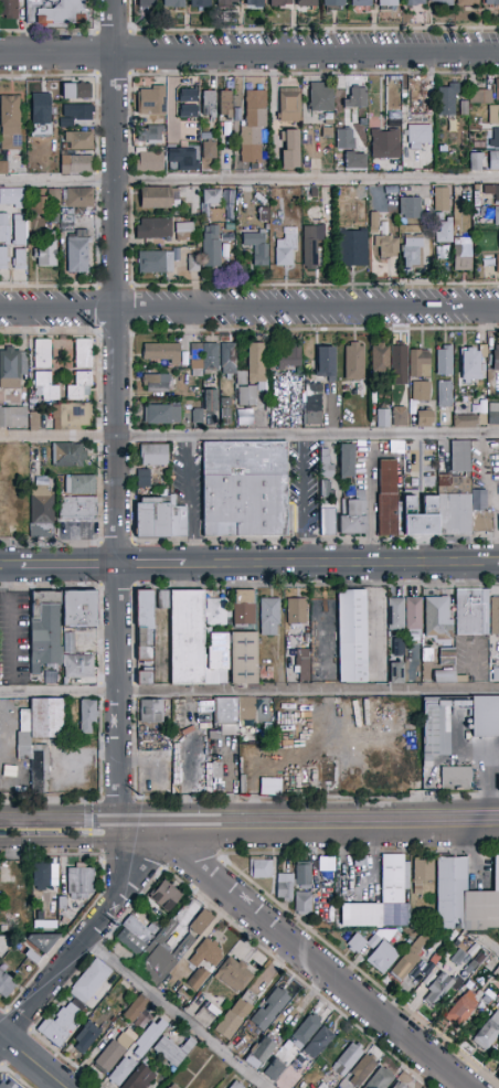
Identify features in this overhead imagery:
building: (226, 2)
building: (400, 2)
building: (440, 2)
building: (467, 2)
building: (491, 2)
building: (146, 3)
building: (173, 3)
building: (200, 3)
building: (254, 3)
building: (279, 3)
building: (307, 3)
building: (361, 3)
building: (333, 4)
building: (9, 10)
building: (53, 11)
road: (93, 15)
road: (298, 29)
road: (46, 31)
road: (112, 31)
road: (248, 52)
building: (75, 92)
building: (487, 94)
building: (321, 98)
building: (354, 98)
building: (152, 99)
building: (447, 99)
building: (417, 100)
building: (189, 104)
building: (209, 104)
building: (225, 104)
building: (289, 106)
building: (41, 109)
building: (76, 114)
building: (493, 115)
building: (11, 122)
building: (253, 126)
building: (150, 134)
building: (420, 134)
building: (497, 138)
building: (78, 141)
building: (385, 143)
building: (290, 149)
building: (349, 149)
building: (209, 150)
building: (182, 159)
building: (493, 160)
building: (149, 161)
building: (476, 161)
building: (2, 164)
building: (75, 164)
road: (250, 179)
building: (491, 192)
building: (12, 196)
building: (78, 198)
building: (157, 199)
building: (344, 200)
building: (440, 200)
building: (45, 201)
building: (210, 201)
building: (229, 201)
building: (410, 207)
building: (497, 217)
building: (3, 228)
building: (153, 228)
building: (184, 230)
building: (20, 241)
building: (312, 242)
building: (255, 245)
building: (211, 246)
building: (455, 246)
building: (387, 247)
building: (351, 248)
building: (46, 250)
building: (286, 250)
building: (412, 250)
building: (442, 252)
building: (498, 252)
building: (78, 255)
building: (3, 257)
building: (496, 262)
building: (156, 263)
road: (250, 310)
power tower: (100, 333)
building: (161, 353)
building: (42, 354)
building: (204, 355)
building: (290, 358)
building: (227, 359)
building: (325, 360)
building: (496, 360)
building: (401, 361)
building: (444, 361)
building: (256, 363)
building: (474, 363)
building: (355, 365)
building: (11, 366)
building: (82, 372)
building: (156, 383)
building: (44, 386)
building: (421, 391)
building: (444, 394)
building: (246, 395)
building: (208, 399)
building: (312, 404)
road: (118, 409)
building: (162, 414)
building: (191, 414)
building: (242, 414)
building: (493, 414)
building: (400, 416)
building: (71, 417)
building: (383, 417)
building: (18, 418)
building: (423, 419)
building: (468, 420)
road: (250, 434)
building: (70, 455)
building: (153, 455)
building: (459, 457)
building: (347, 461)
building: (326, 462)
building: (142, 478)
building: (442, 479)
building: (79, 484)
building: (325, 487)
building: (244, 489)
building: (476, 497)
road: (191, 500)
road: (302, 500)
building: (447, 504)
building: (41, 505)
building: (77, 509)
building: (160, 518)
building: (327, 518)
building: (353, 519)
building: (481, 520)
road: (498, 564)
road: (341, 565)
road: (10, 567)
road: (71, 567)
road: (152, 567)
building: (145, 608)
building: (79, 609)
building: (243, 609)
building: (471, 611)
building: (215, 612)
building: (296, 612)
building: (395, 614)
building: (414, 614)
building: (269, 616)
building: (495, 616)
building: (438, 618)
building: (40, 628)
building: (94, 631)
building: (188, 638)
building: (353, 638)
building: (307, 641)
building: (70, 642)
building: (399, 647)
building: (146, 654)
building: (244, 658)
building: (304, 664)
building: (79, 666)
building: (445, 666)
building: (396, 672)
building: (210, 674)
building: (495, 674)
building: (51, 678)
road: (248, 691)
building: (248, 710)
building: (151, 712)
building: (219, 715)
building: (87, 716)
building: (485, 716)
building: (46, 717)
building: (435, 730)
building: (23, 746)
building: (189, 750)
building: (204, 760)
building: (40, 768)
building: (178, 769)
building: (329, 774)
building: (401, 775)
building: (412, 775)
building: (457, 780)
building: (496, 781)
building: (270, 787)
railway: (250, 817)
road: (333, 820)
road: (61, 821)
road: (145, 821)
railway: (250, 825)
railway: (45, 830)
road: (372, 863)
building: (63, 867)
building: (261, 867)
building: (422, 874)
building: (41, 875)
building: (304, 876)
building: (81, 882)
building: (63, 883)
building: (285, 886)
building: (450, 893)
building: (166, 896)
building: (393, 897)
building: (53, 903)
building: (304, 903)
building: (67, 904)
building: (482, 905)
building: (397, 907)
building: (201, 922)
building: (141, 926)
building: (168, 931)
road: (87, 935)
building: (396, 936)
building: (43, 941)
building: (131, 942)
building: (407, 943)
building: (362, 945)
road: (491, 946)
building: (206, 953)
building: (168, 957)
building: (459, 957)
building: (383, 958)
building: (410, 958)
building: (33, 959)
road: (310, 960)
building: (433, 962)
building: (475, 962)
building: (497, 973)
building: (234, 974)
building: (198, 979)
building: (91, 981)
building: (6, 985)
building: (439, 985)
building: (460, 1009)
building: (270, 1010)
building: (138, 1012)
road: (173, 1014)
building: (235, 1015)
building: (67, 1017)
building: (114, 1020)
building: (306, 1031)
building: (52, 1032)
building: (487, 1033)
building: (86, 1036)
building: (149, 1037)
building: (319, 1043)
building: (287, 1046)
building: (173, 1050)
building: (261, 1053)
building: (113, 1054)
building: (498, 1057)
road: (33, 1059)
building: (301, 1059)
building: (498, 1062)
building: (341, 1066)
building: (274, 1069)
building: (361, 1070)
building: (123, 1071)
building: (498, 1077)
building: (139, 1078)
building: (381, 1079)
building: (2, 1085)
building: (236, 1085)
building: (399, 1085)
building: (173, 1086)
building: (169, 1087)

